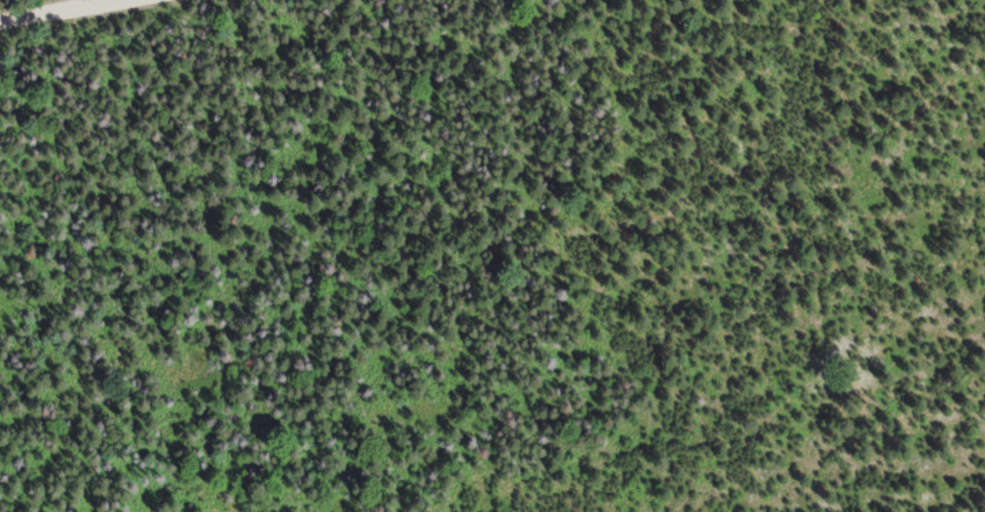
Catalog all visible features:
road: (56, 10)

